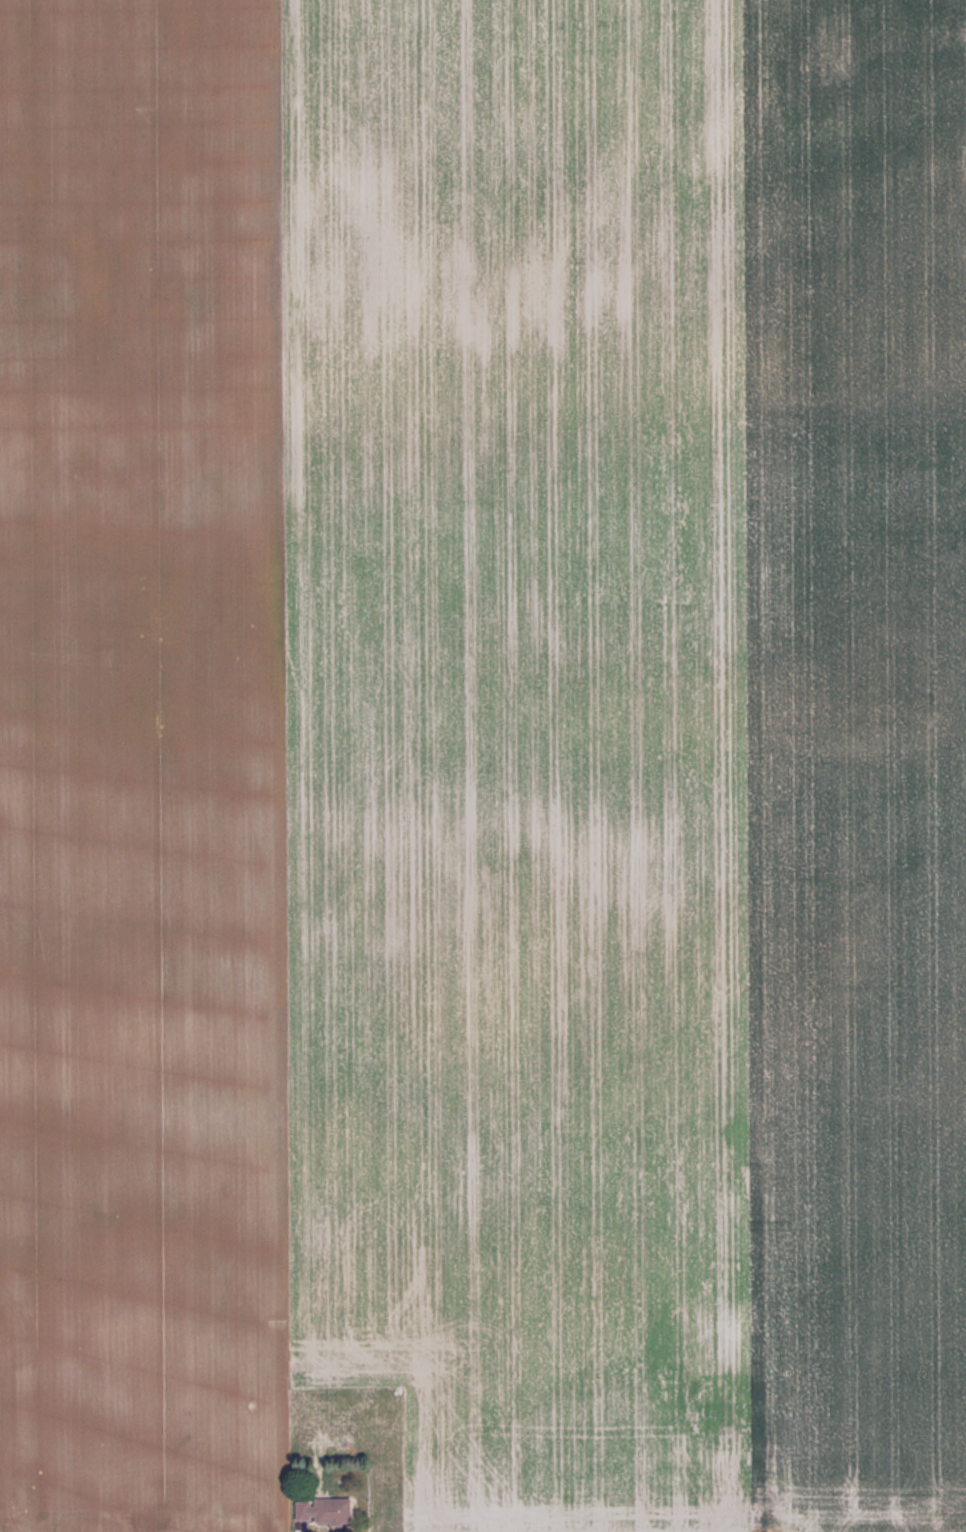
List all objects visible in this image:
building: (734, 1171)
building: (670, 1402)
building: (327, 1510)

